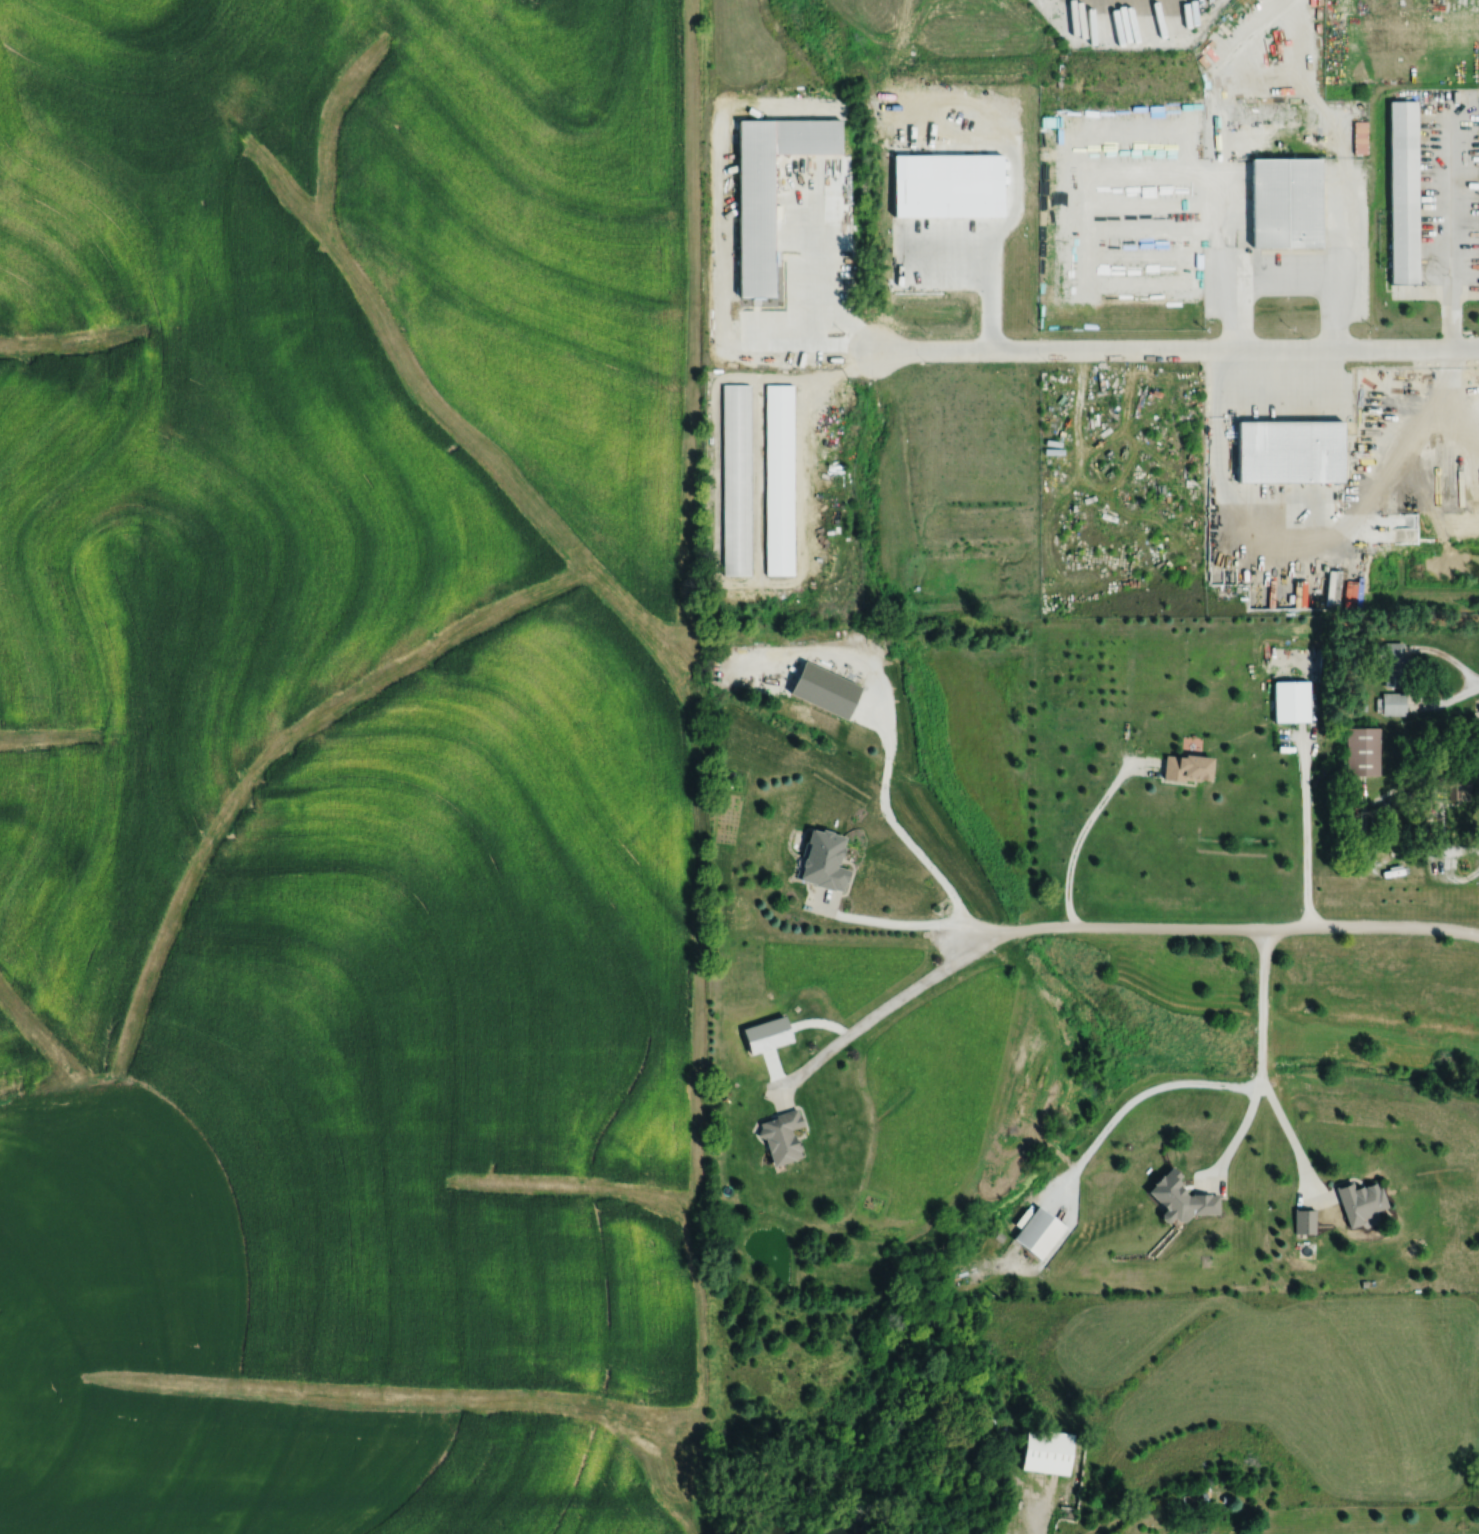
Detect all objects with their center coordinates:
building: (770, 189)
building: (1404, 192)
building: (1286, 203)
road: (1449, 233)
road: (995, 245)
building: (1116, 250)
road: (952, 259)
road: (1283, 277)
road: (824, 290)
road: (1176, 351)
building: (736, 479)
building: (779, 479)
building: (1393, 663)
road: (1398, 673)
building: (1291, 700)
building: (1394, 703)
road: (886, 738)
building: (1362, 749)
building: (1187, 767)
road: (886, 770)
building: (1453, 782)
road: (1086, 834)
road: (1308, 834)
road: (924, 858)
building: (824, 859)
road: (1444, 864)
road: (896, 918)
road: (1223, 933)
road: (878, 1018)
road: (1265, 1062)
road: (1137, 1094)
road: (1293, 1132)
building: (781, 1136)
building: (1183, 1198)
building: (1361, 1202)
building: (1039, 1232)
building: (1047, 1451)
road: (1034, 1521)

